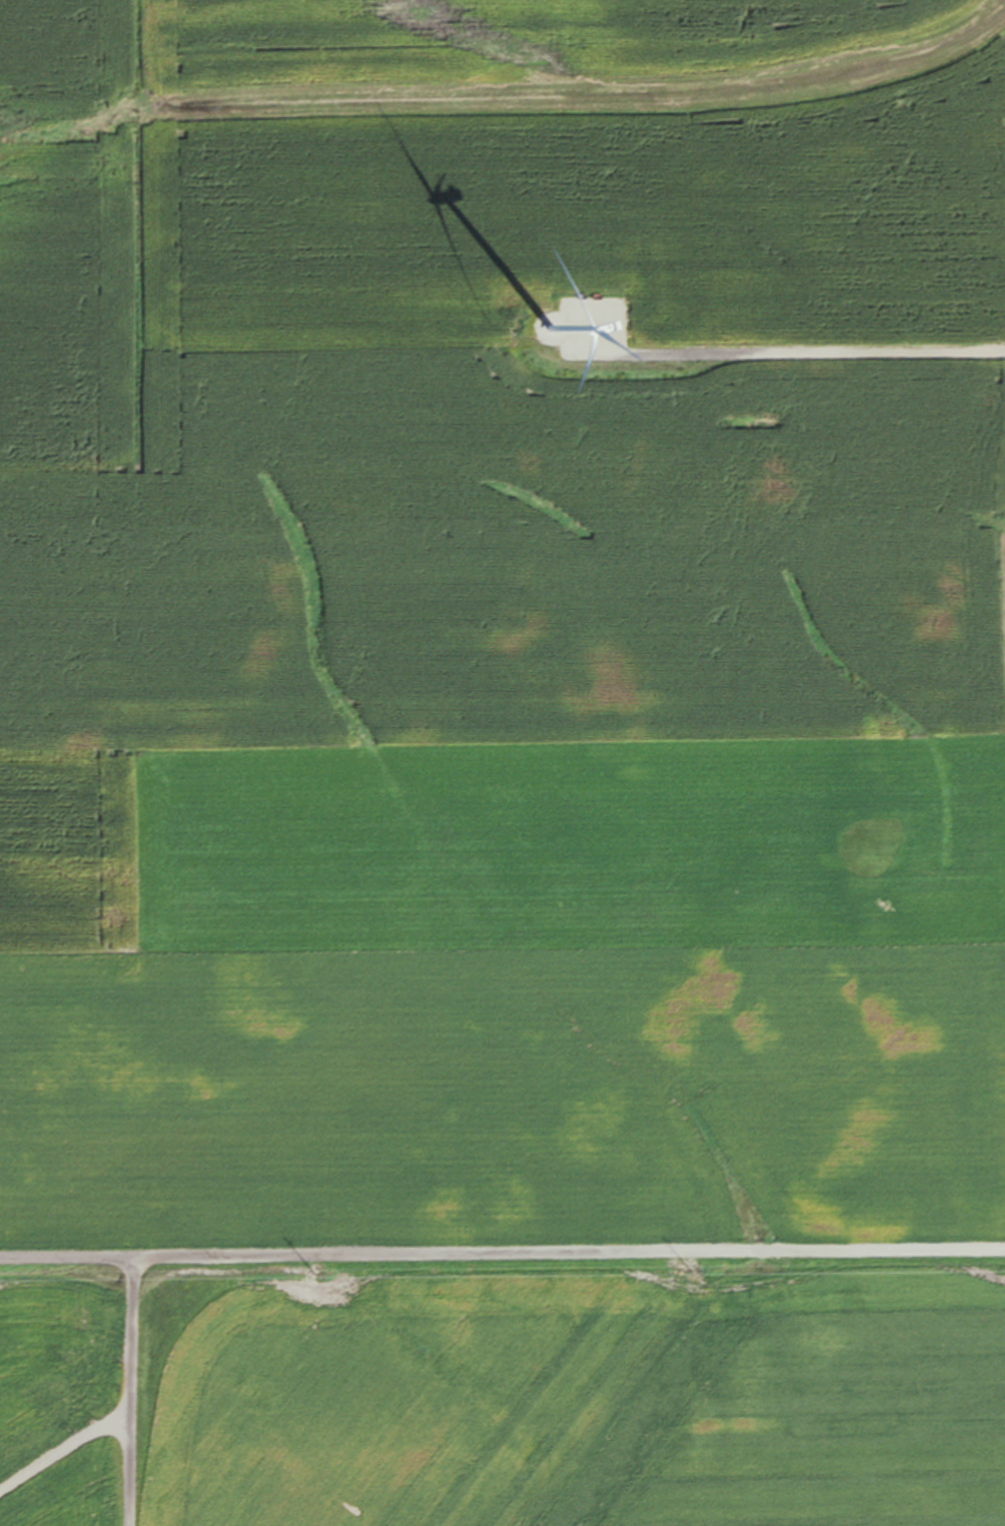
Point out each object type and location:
building: (590, 288)
wind turbine: (547, 334)
road: (779, 359)
road: (504, 1259)
road: (126, 1394)
road: (60, 1456)

